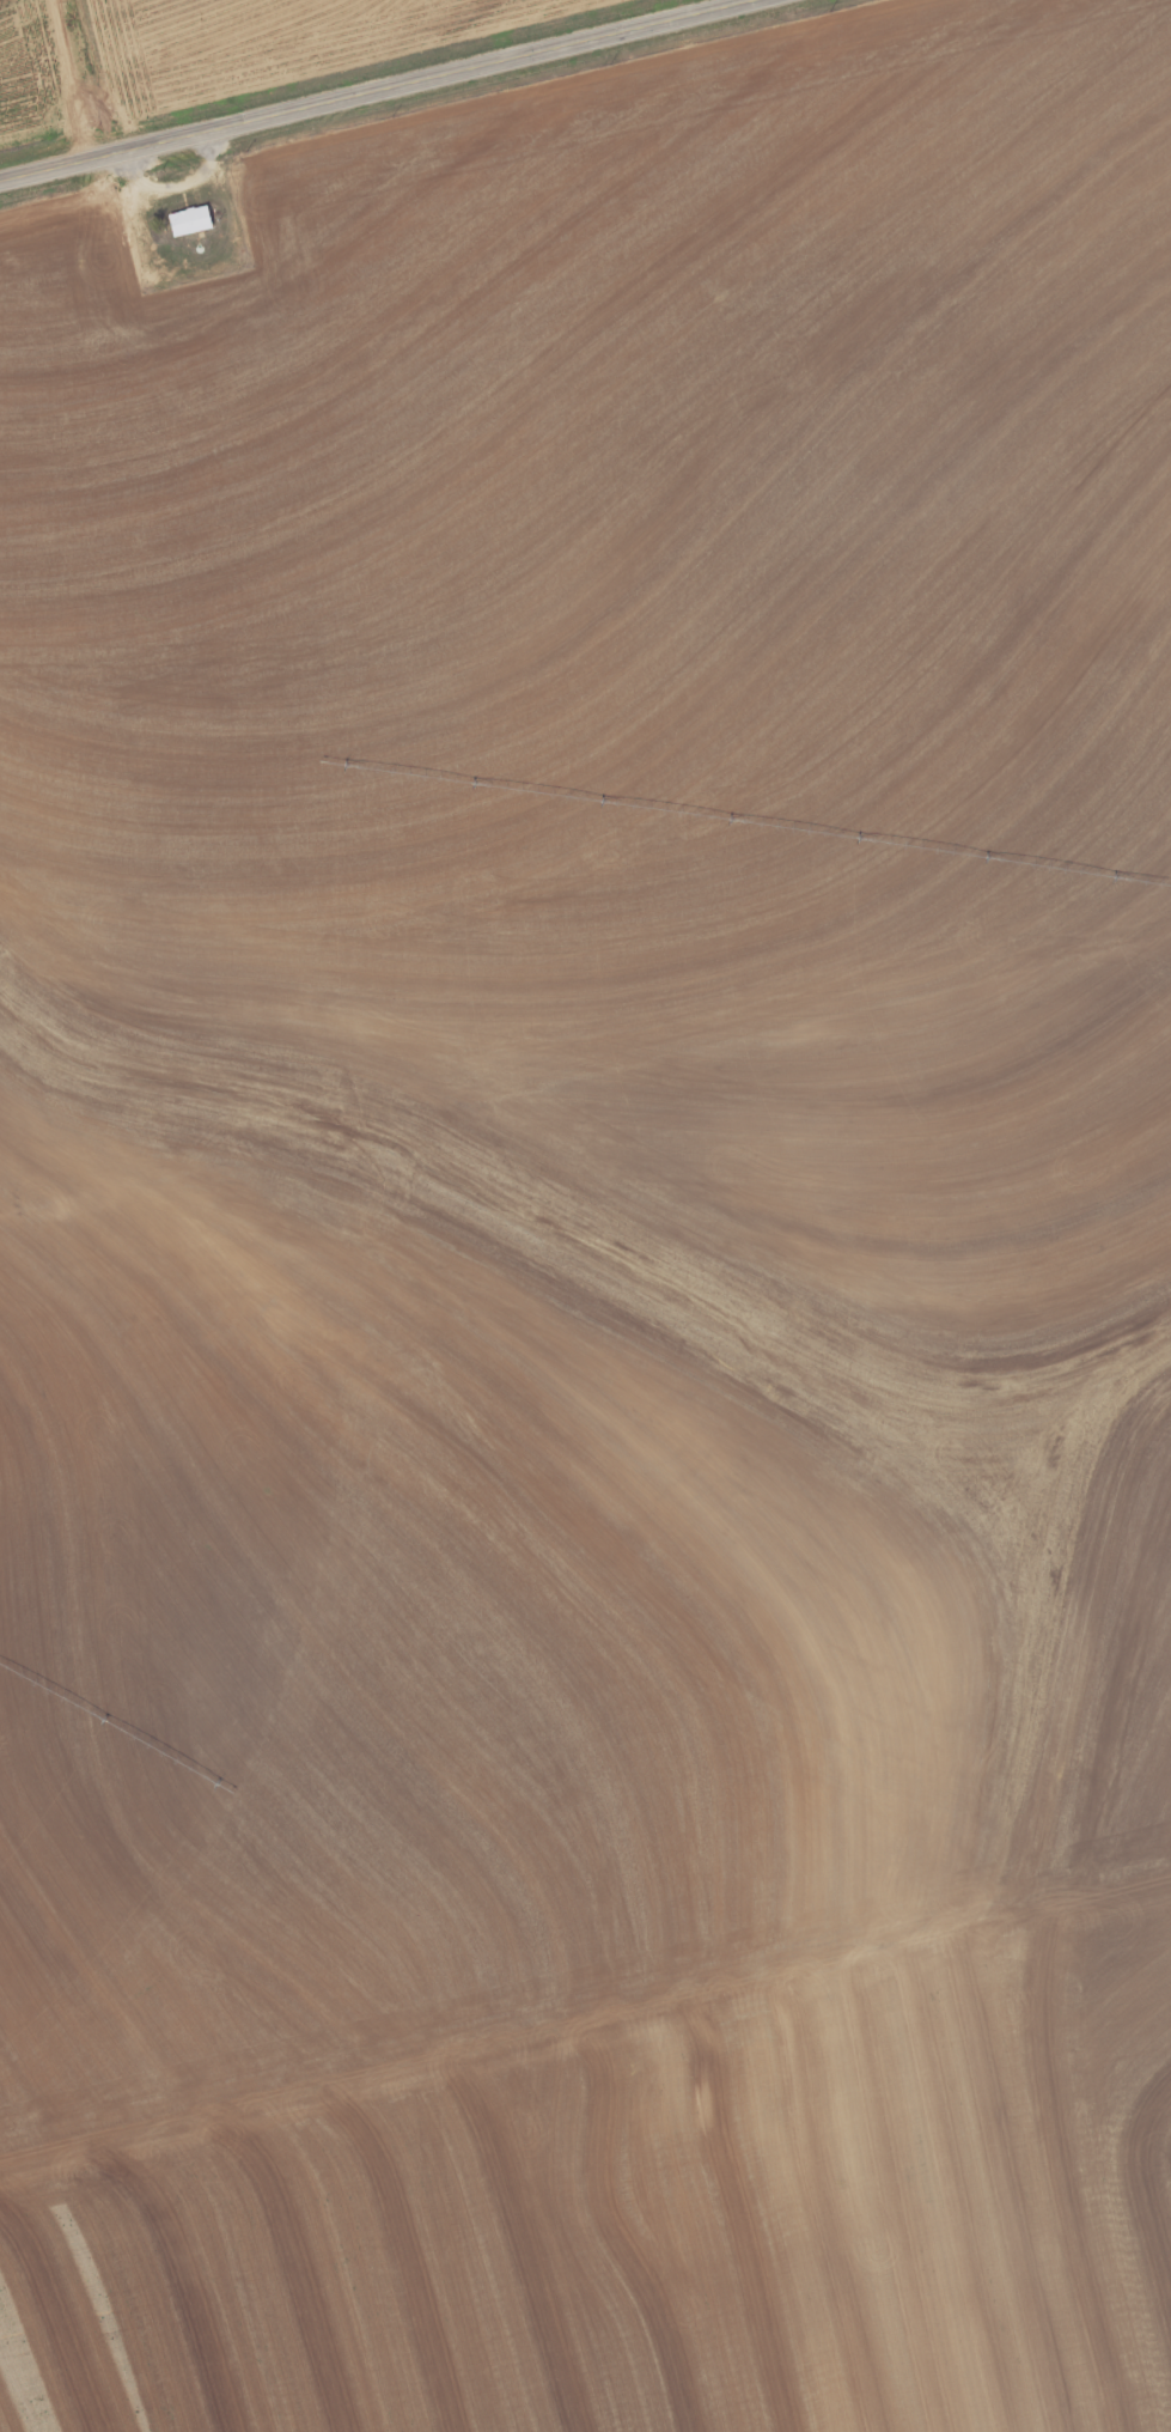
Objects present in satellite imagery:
road: (366, 87)
road: (373, 2108)

